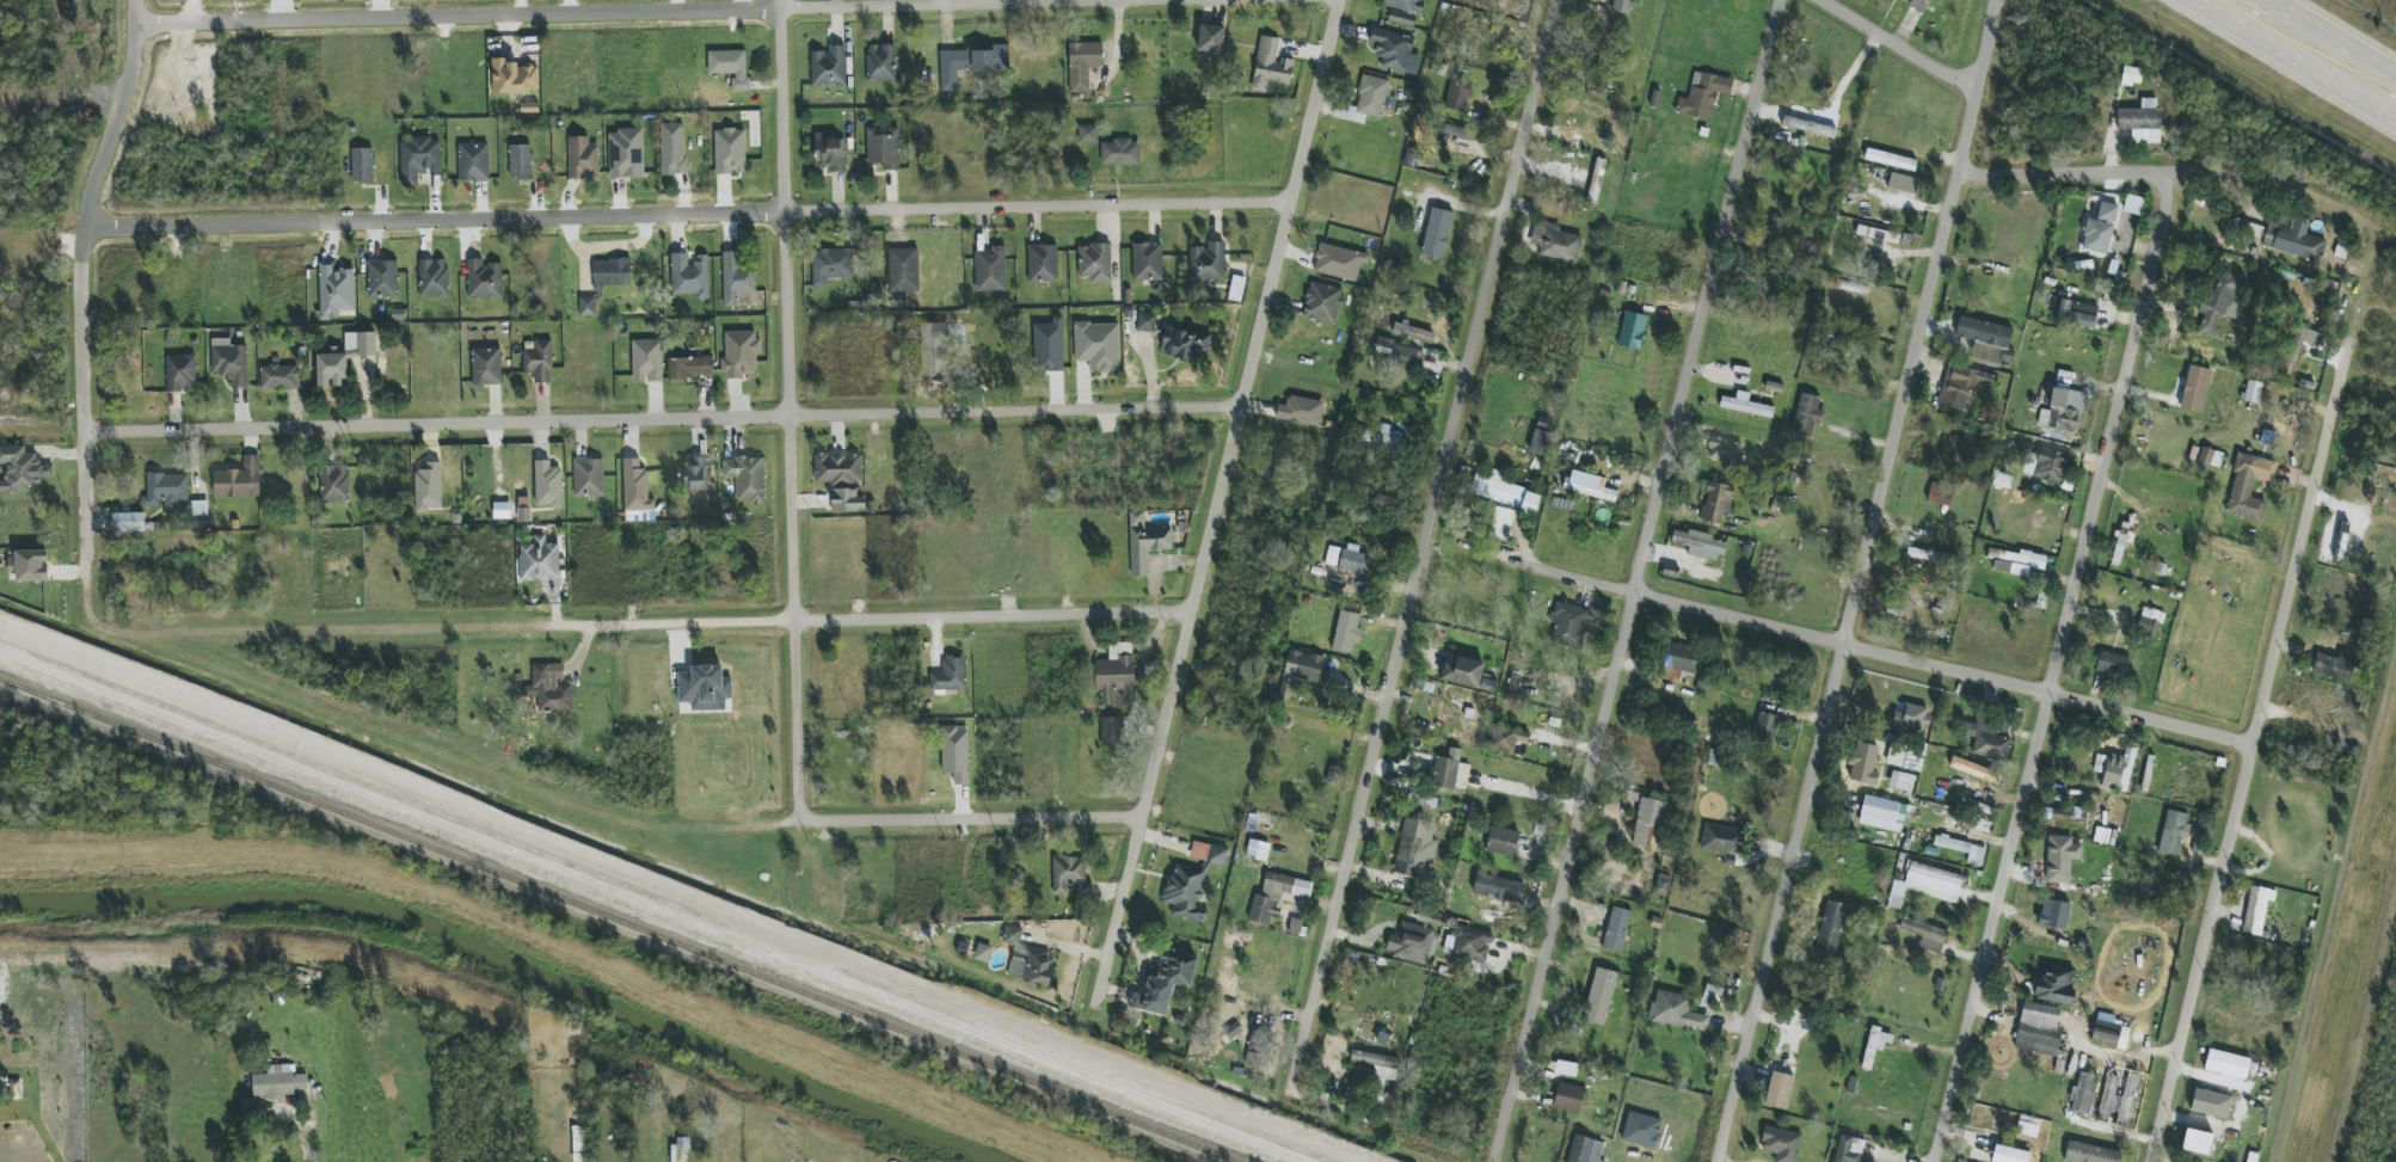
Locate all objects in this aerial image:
building: (1403, 5)
building: (1919, 5)
road: (2260, 5)
building: (1622, 6)
road: (528, 14)
building: (1210, 38)
road: (1905, 45)
road: (2332, 45)
building: (1394, 51)
road: (2287, 60)
building: (971, 62)
building: (880, 63)
building: (1082, 64)
building: (1270, 64)
building: (730, 67)
building: (828, 67)
building: (2131, 76)
building: (1457, 94)
building: (1703, 94)
building: (1365, 100)
building: (2140, 122)
building: (1807, 127)
building: (1087, 134)
building: (884, 147)
building: (672, 149)
building: (730, 152)
building: (830, 153)
building: (1120, 153)
building: (626, 154)
building: (582, 158)
building: (418, 159)
building: (1890, 160)
building: (520, 161)
building: (473, 162)
building: (362, 165)
road: (2114, 168)
building: (1596, 182)
building: (1903, 183)
road: (1288, 202)
road: (699, 214)
building: (1775, 229)
building: (2100, 229)
building: (1437, 233)
building: (2293, 241)
building: (1555, 242)
building: (1147, 262)
building: (1095, 263)
building: (1206, 263)
building: (1339, 263)
building: (1043, 264)
building: (830, 265)
road: (1491, 268)
building: (903, 270)
building: (990, 270)
building: (610, 275)
building: (689, 276)
road: (85, 277)
building: (736, 277)
building: (432, 278)
building: (382, 279)
building: (484, 279)
building: (334, 290)
building: (2223, 300)
building: (1322, 303)
building: (586, 307)
building: (2075, 313)
building: (398, 316)
building: (1145, 322)
building: (1632, 331)
building: (1412, 333)
building: (2303, 340)
building: (1185, 343)
building: (1049, 346)
building: (1098, 346)
building: (933, 350)
building: (741, 353)
building: (1402, 355)
building: (343, 358)
building: (647, 361)
building: (539, 362)
building: (231, 364)
building: (486, 367)
road: (2341, 367)
building: (690, 368)
building: (180, 373)
building: (281, 377)
building: (1961, 386)
building: (2195, 389)
building: (2251, 392)
building: (1744, 405)
road: (795, 411)
building: (1301, 411)
building: (2062, 411)
building: (1807, 413)
road: (662, 414)
building: (1384, 437)
building: (1540, 442)
road: (1230, 448)
building: (1722, 450)
building: (2211, 457)
building: (2047, 466)
building: (837, 468)
building: (21, 469)
building: (695, 475)
building: (588, 478)
building: (747, 479)
building: (238, 480)
building: (334, 485)
building: (547, 485)
building: (428, 487)
building: (635, 487)
building: (2249, 487)
building: (1590, 490)
building: (1504, 491)
building: (166, 492)
building: (1940, 494)
building: (846, 500)
building: (1716, 502)
building: (502, 510)
building: (523, 510)
building: (198, 515)
building: (128, 522)
building: (1501, 523)
building: (1145, 543)
building: (1698, 545)
building: (1332, 555)
building: (1927, 555)
building: (539, 561)
building: (1353, 562)
building: (2010, 562)
building: (29, 565)
road: (1636, 579)
road: (1861, 580)
road: (871, 615)
building: (2149, 622)
building: (1568, 626)
building: (1346, 633)
road: (1884, 651)
building: (1681, 660)
building: (2111, 663)
building: (1305, 666)
building: (2333, 666)
road: (2057, 670)
building: (1463, 672)
building: (950, 675)
building: (1116, 677)
building: (705, 688)
building: (1286, 688)
building: (551, 689)
building: (1765, 726)
building: (1112, 732)
road: (1162, 734)
building: (1505, 739)
building: (1988, 740)
building: (956, 754)
building: (1863, 764)
building: (1968, 768)
building: (2115, 770)
building: (1450, 771)
building: (1426, 774)
road: (2243, 777)
building: (1902, 782)
road: (1357, 811)
building: (1884, 814)
road: (975, 819)
building: (1647, 819)
building: (2173, 834)
building: (1721, 840)
building: (1503, 842)
building: (1415, 849)
building: (1962, 849)
building: (1258, 850)
building: (2060, 859)
building: (1068, 877)
building: (1192, 883)
building: (1663, 883)
building: (1933, 883)
building: (1498, 889)
building: (1276, 896)
railway: (663, 902)
building: (2256, 909)
railway: (639, 911)
building: (2053, 915)
railway: (621, 920)
building: (1295, 926)
building: (1830, 928)
building: (1616, 929)
building: (1925, 935)
building: (1413, 941)
building: (1472, 945)
building: (982, 953)
building: (1026, 959)
building: (1168, 980)
building: (2056, 985)
building: (1599, 997)
building: (1676, 1012)
building: (2038, 1029)
building: (1233, 1032)
building: (2109, 1035)
building: (1874, 1045)
building: (1258, 1047)
building: (2226, 1064)
building: (1380, 1075)
building: (277, 1083)
building: (1778, 1090)
building: (2083, 1094)
building: (1568, 1098)
building: (2108, 1100)
building: (2211, 1103)
building: (1641, 1130)
road: (302, 1138)
building: (2197, 1142)
building: (578, 1144)
building: (1781, 1144)
building: (1585, 1150)
building: (2089, 1154)
building: (2009, 1155)

